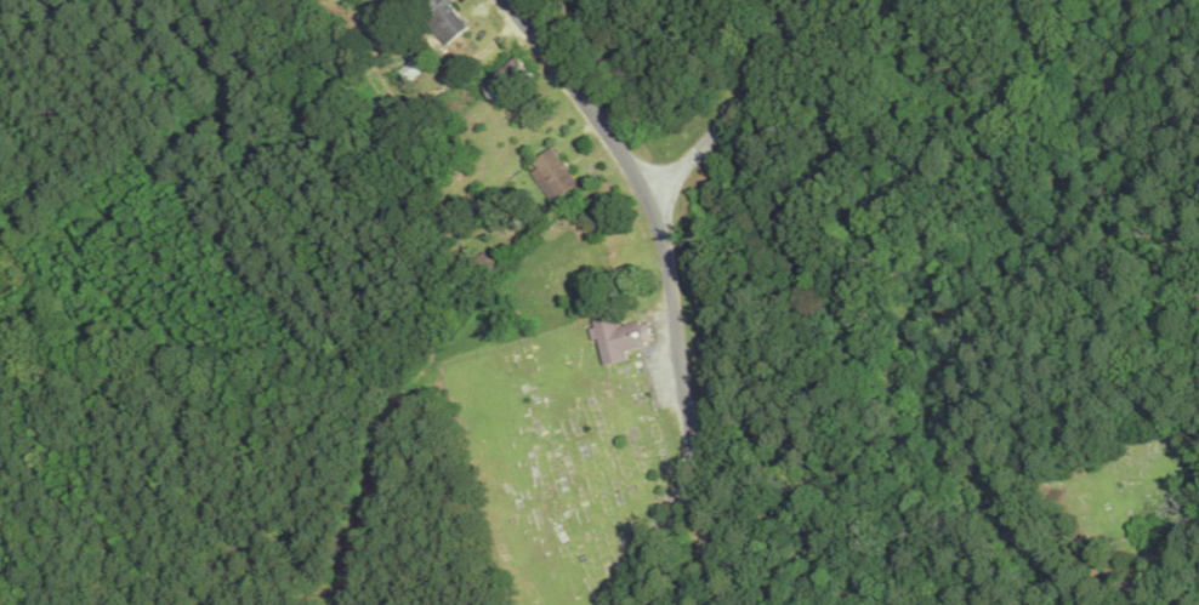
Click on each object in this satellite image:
road: (795, 7)
building: (442, 19)
building: (510, 81)
road: (737, 104)
building: (552, 176)
road: (670, 285)
building: (620, 341)

